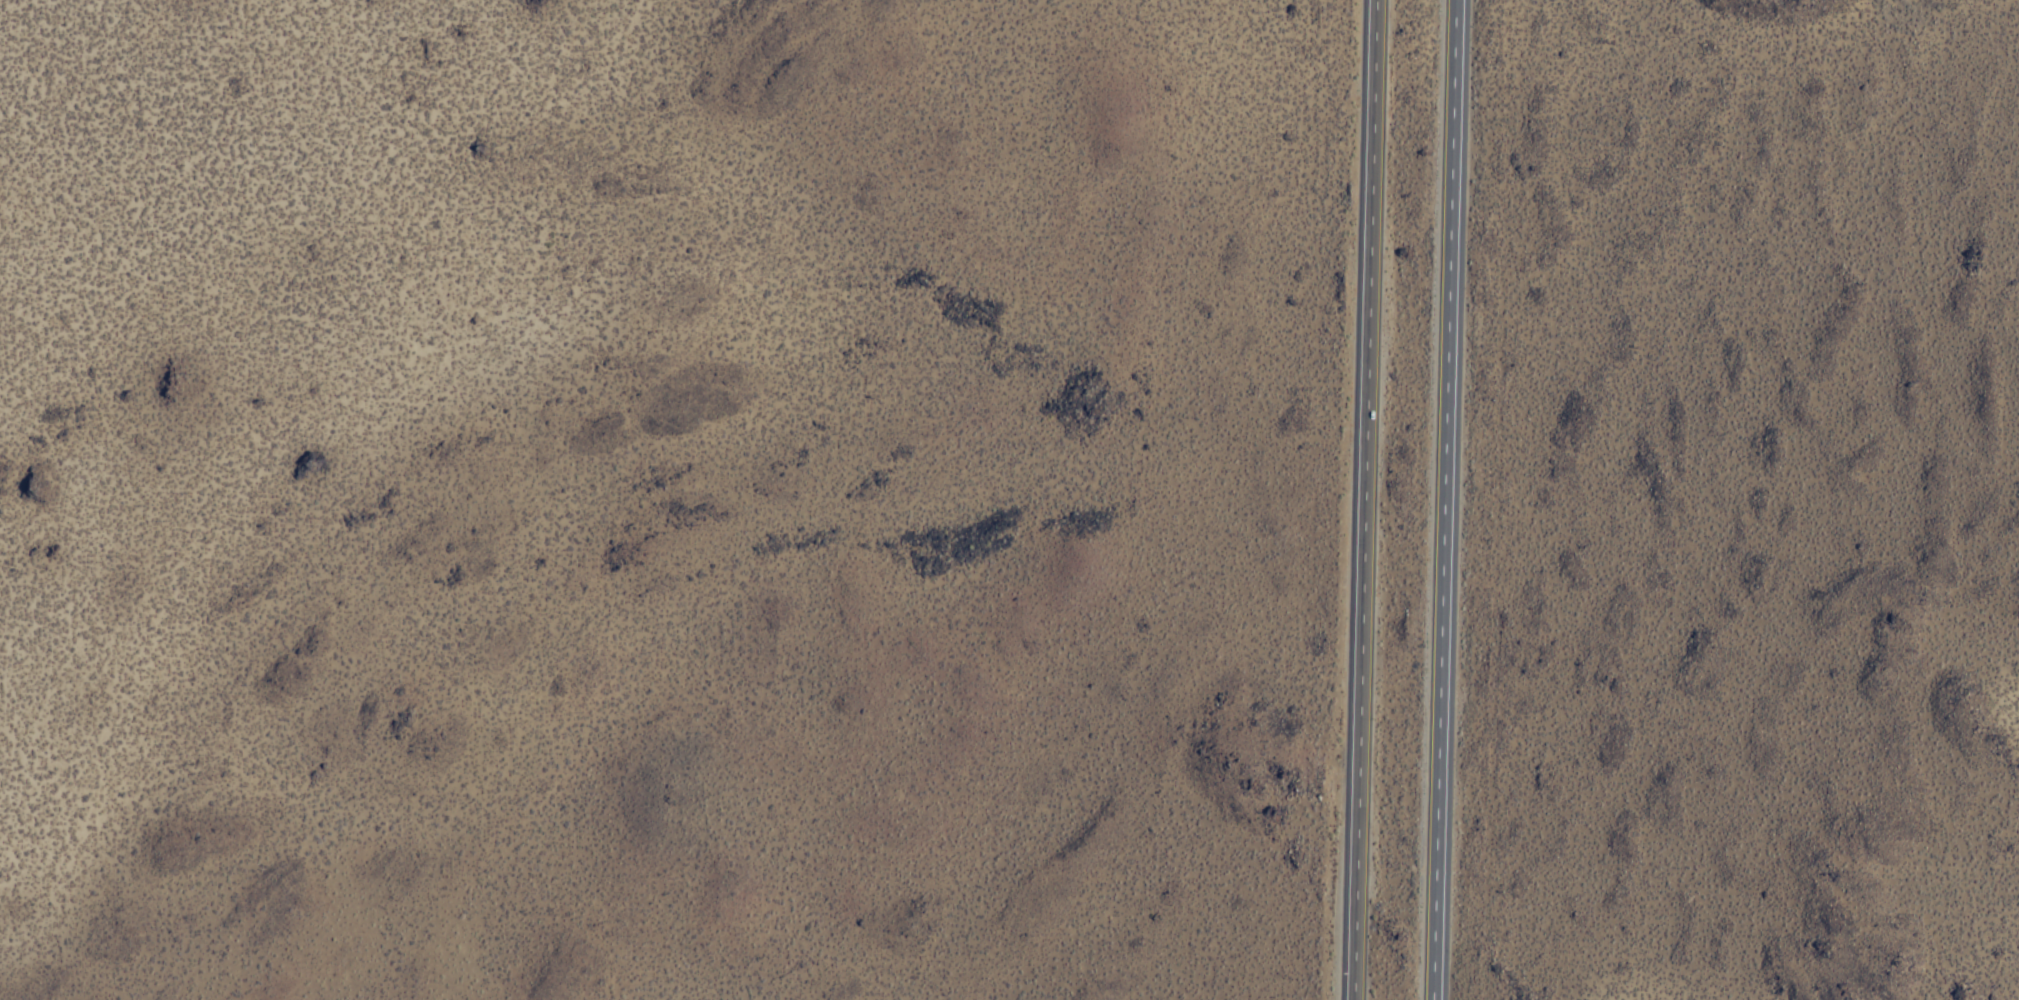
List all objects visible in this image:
road: (1445, 499)
road: (1364, 500)

